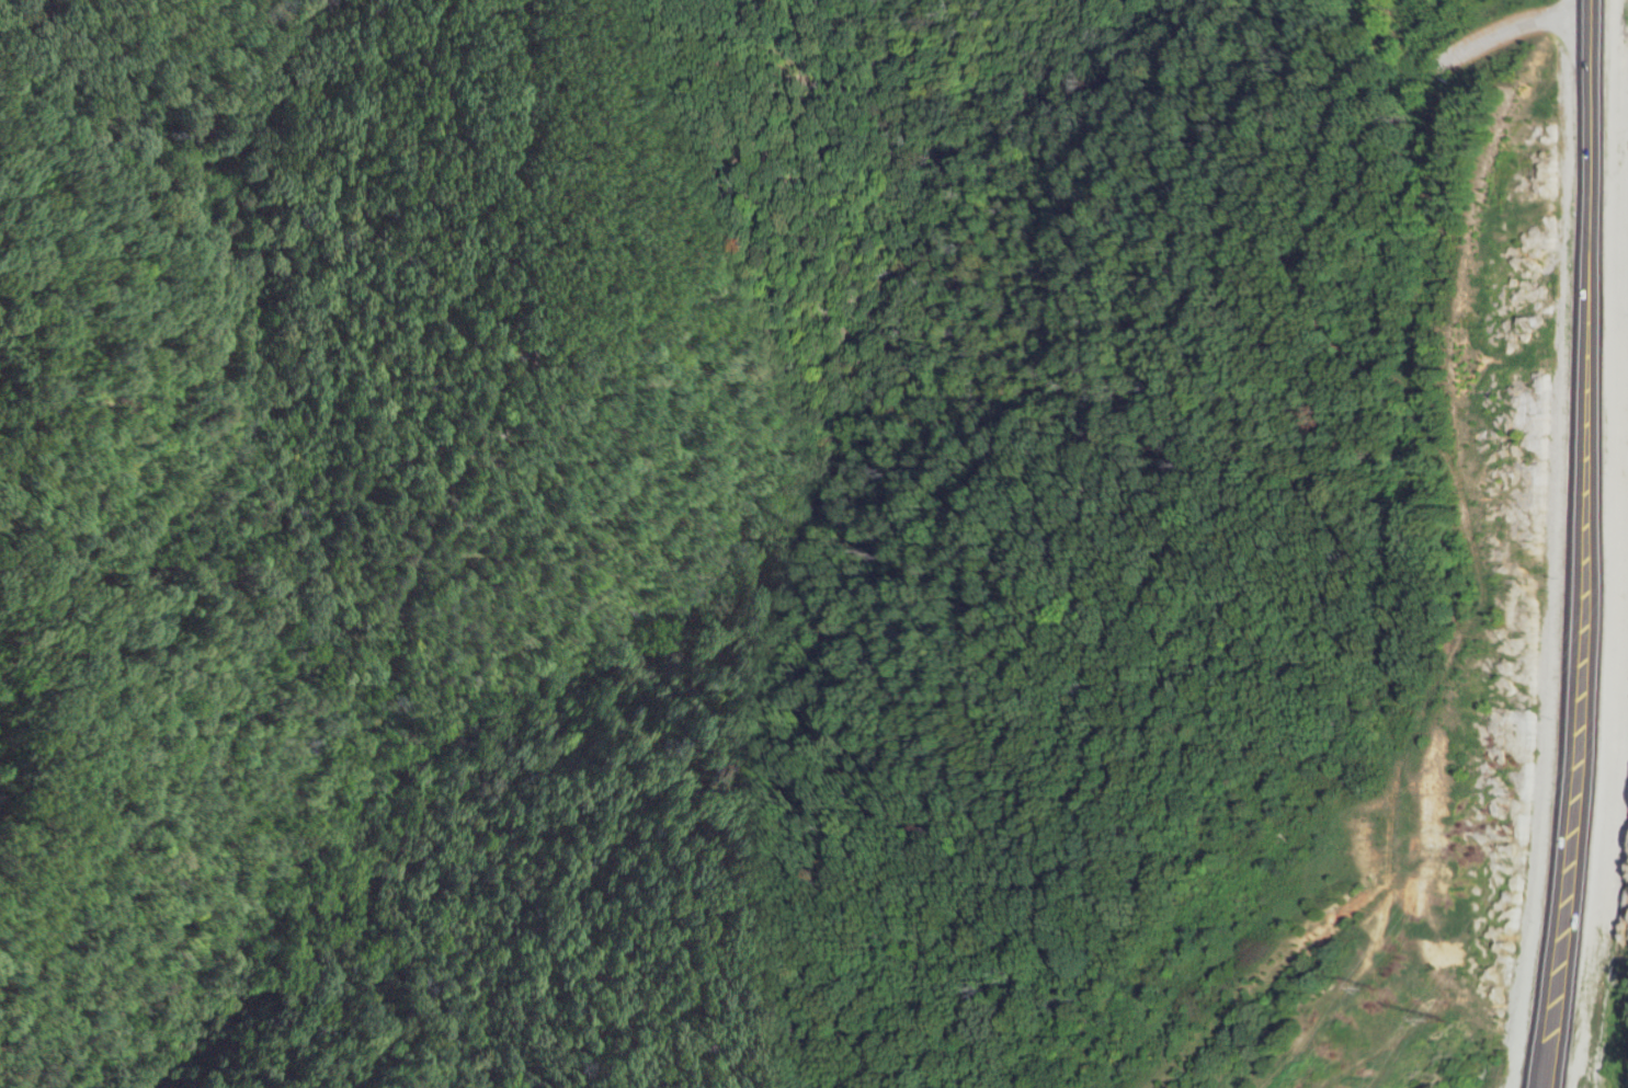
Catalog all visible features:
road: (1562, 543)
power tower: (1366, 989)
power tower: (1427, 1020)

